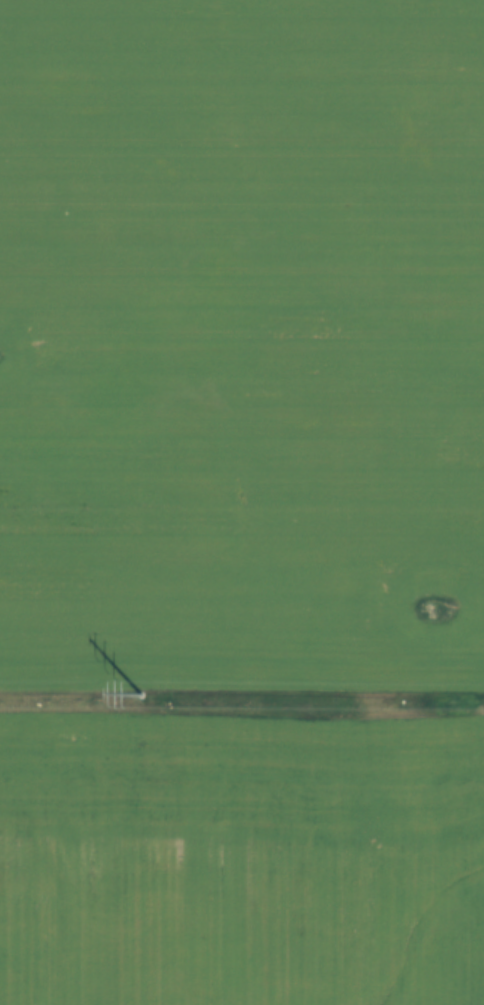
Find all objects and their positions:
power tower: (139, 693)

